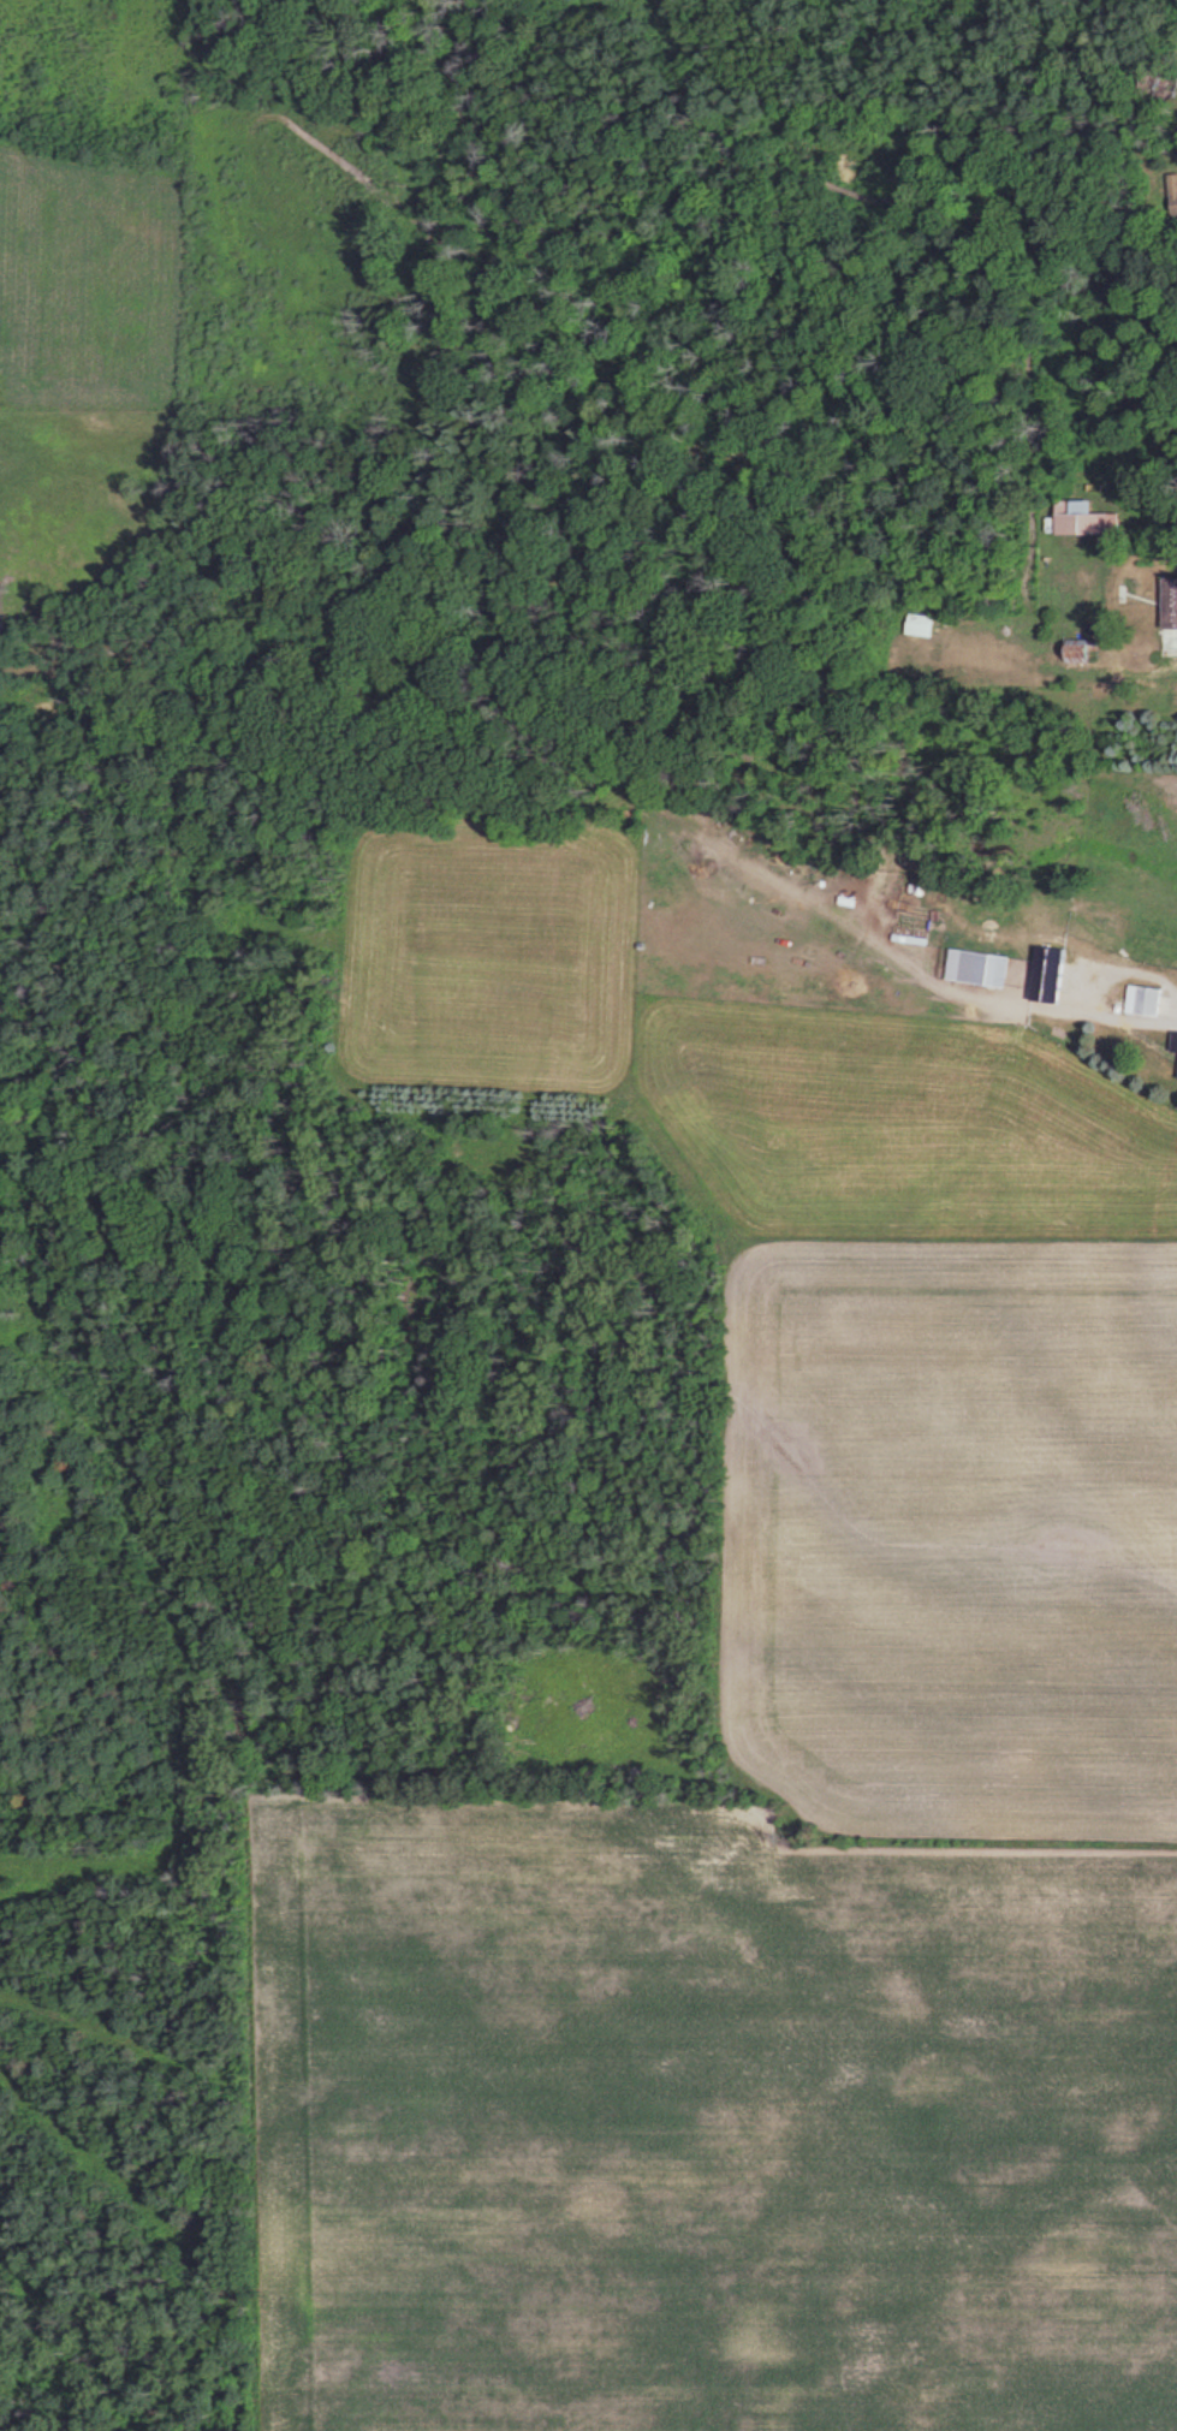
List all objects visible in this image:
building: (1166, 85)
building: (1173, 192)
building: (1088, 521)
building: (1173, 604)
building: (923, 625)
building: (1084, 650)
building: (997, 970)
building: (1053, 975)
building: (1148, 1001)

